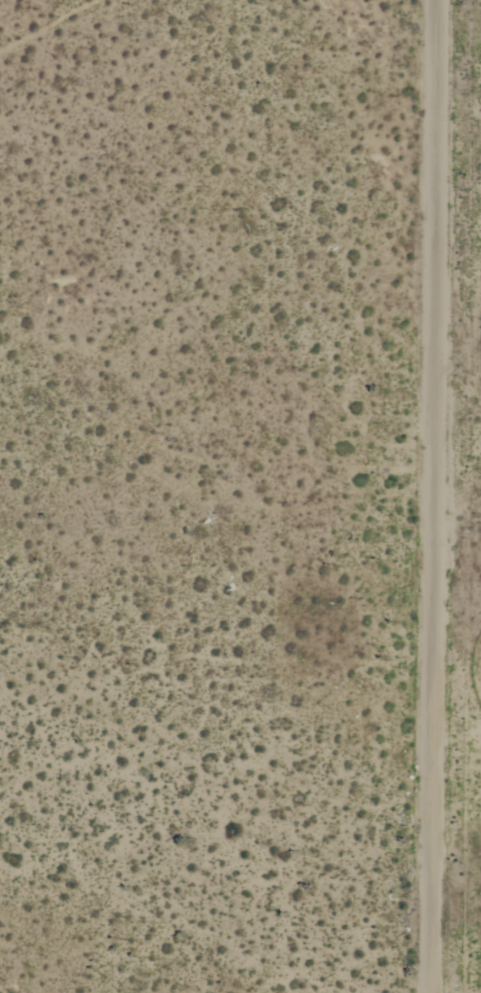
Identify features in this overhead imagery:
road: (426, 496)
road: (452, 784)

